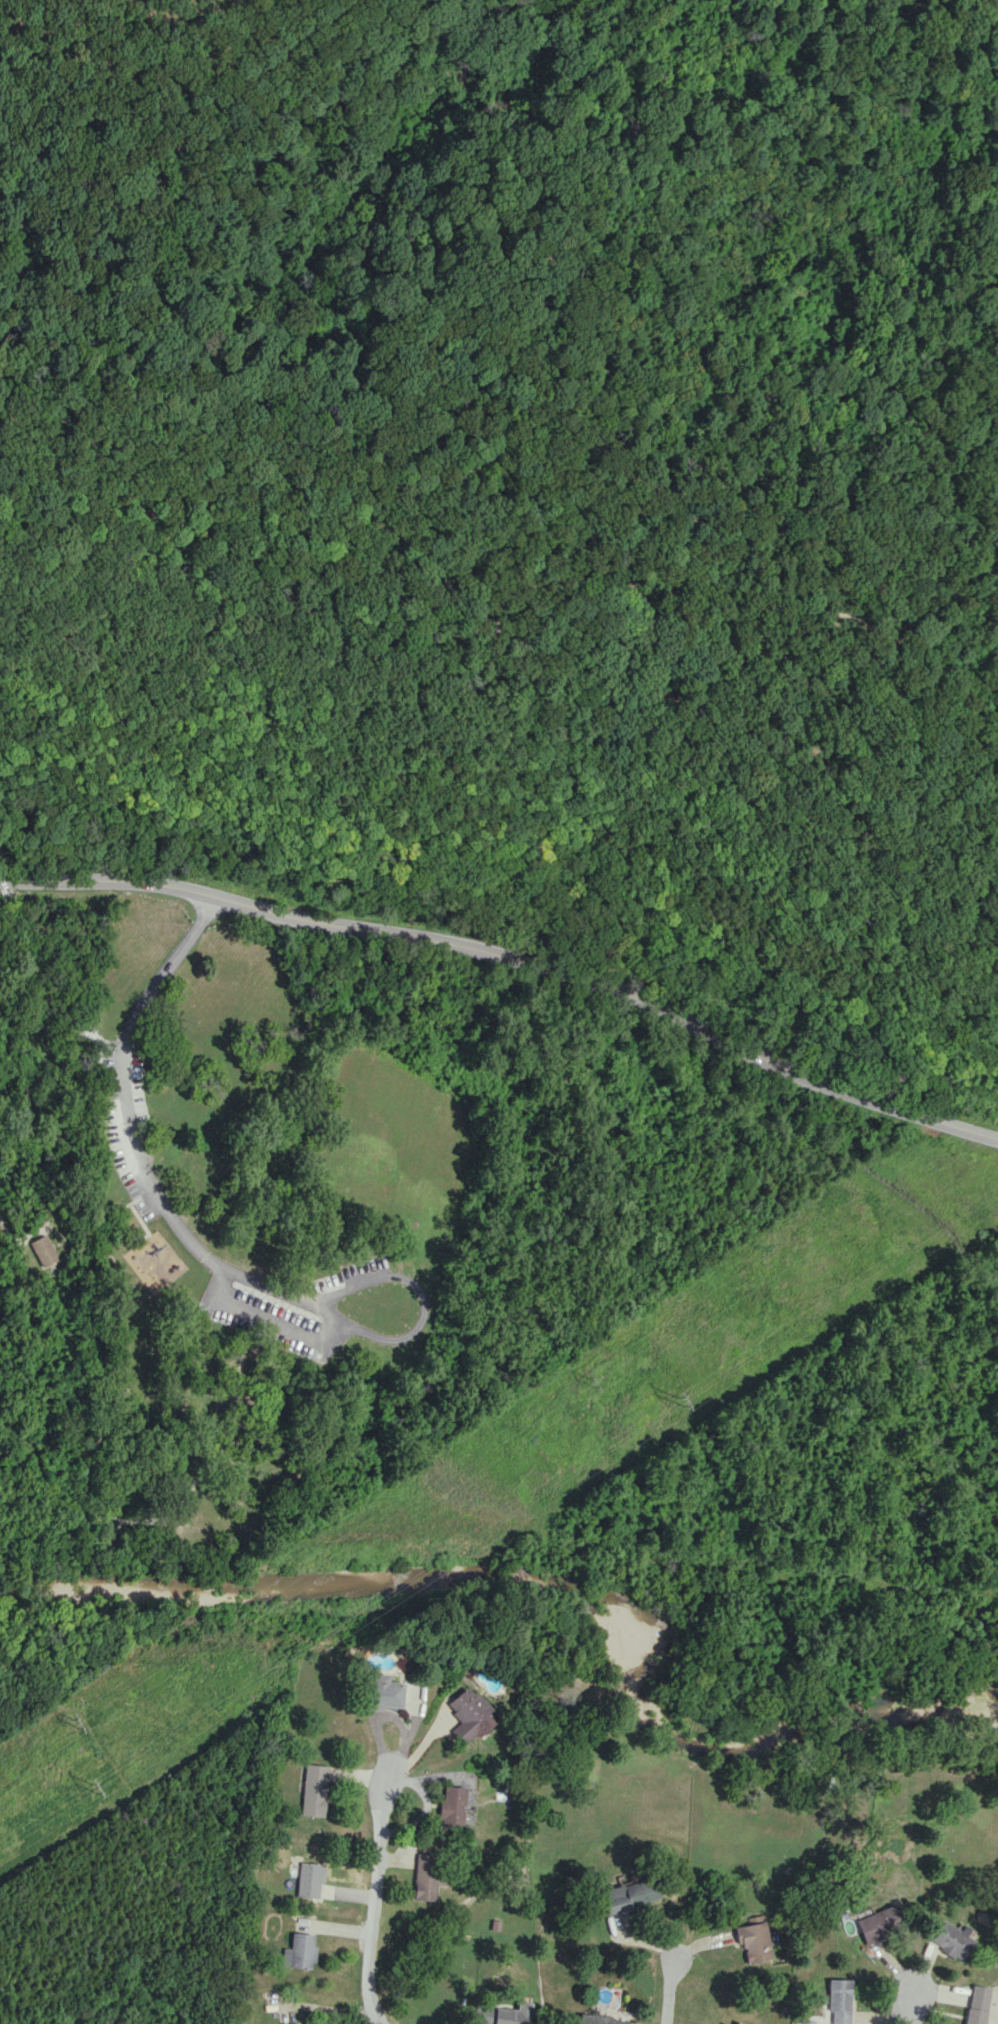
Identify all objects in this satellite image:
road: (520, 494)
road: (509, 865)
road: (10, 914)
road: (511, 962)
road: (28, 1028)
road: (88, 1034)
parking lot: (106, 1063)
road: (9, 1232)
road: (198, 1249)
building: (43, 1250)
parking lot: (362, 1270)
road: (268, 1319)
power tower: (589, 1381)
power tower: (679, 1402)
road: (94, 1458)
road: (118, 1520)
river: (556, 1580)
building: (384, 1692)
building: (469, 1715)
power tower: (73, 1722)
power tower: (92, 1788)
building: (313, 1790)
building: (450, 1805)
building: (426, 1877)
building: (309, 1880)
road: (375, 1893)
building: (629, 1895)
building: (879, 1922)
building: (754, 1939)
building: (952, 1939)
building: (298, 1951)
road: (670, 1989)
building: (839, 2000)
building: (977, 2004)
road: (912, 2006)
building: (502, 2014)
building: (599, 2019)
building: (724, 2023)
building: (739, 2023)

